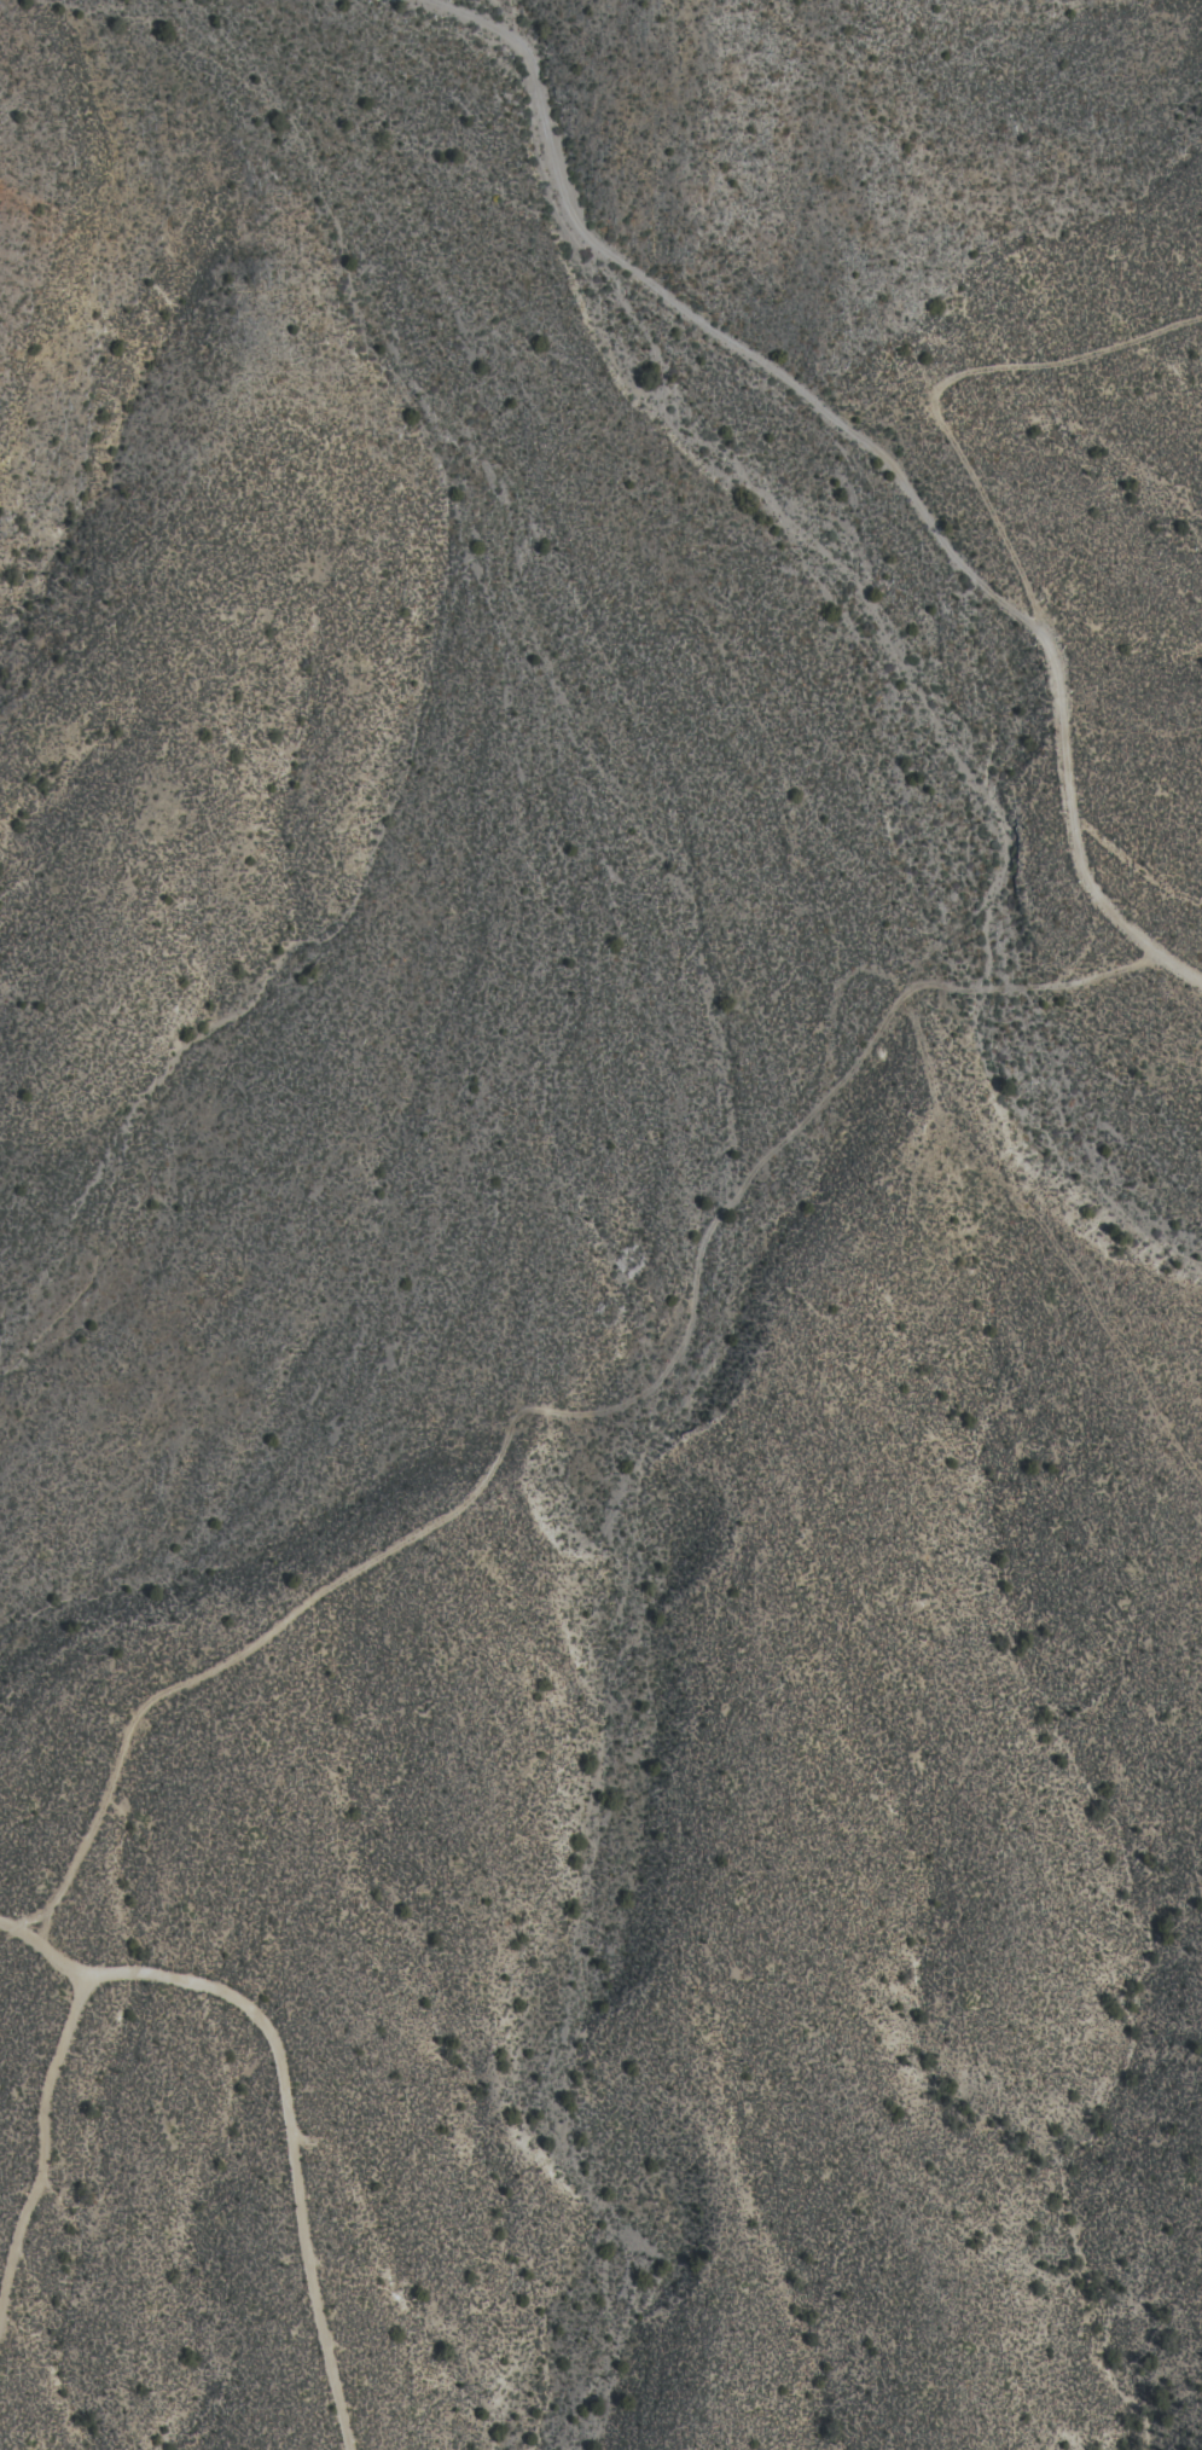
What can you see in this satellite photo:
road: (807, 451)
road: (1195, 980)
road: (573, 1412)
road: (292, 2098)
road: (41, 2137)

